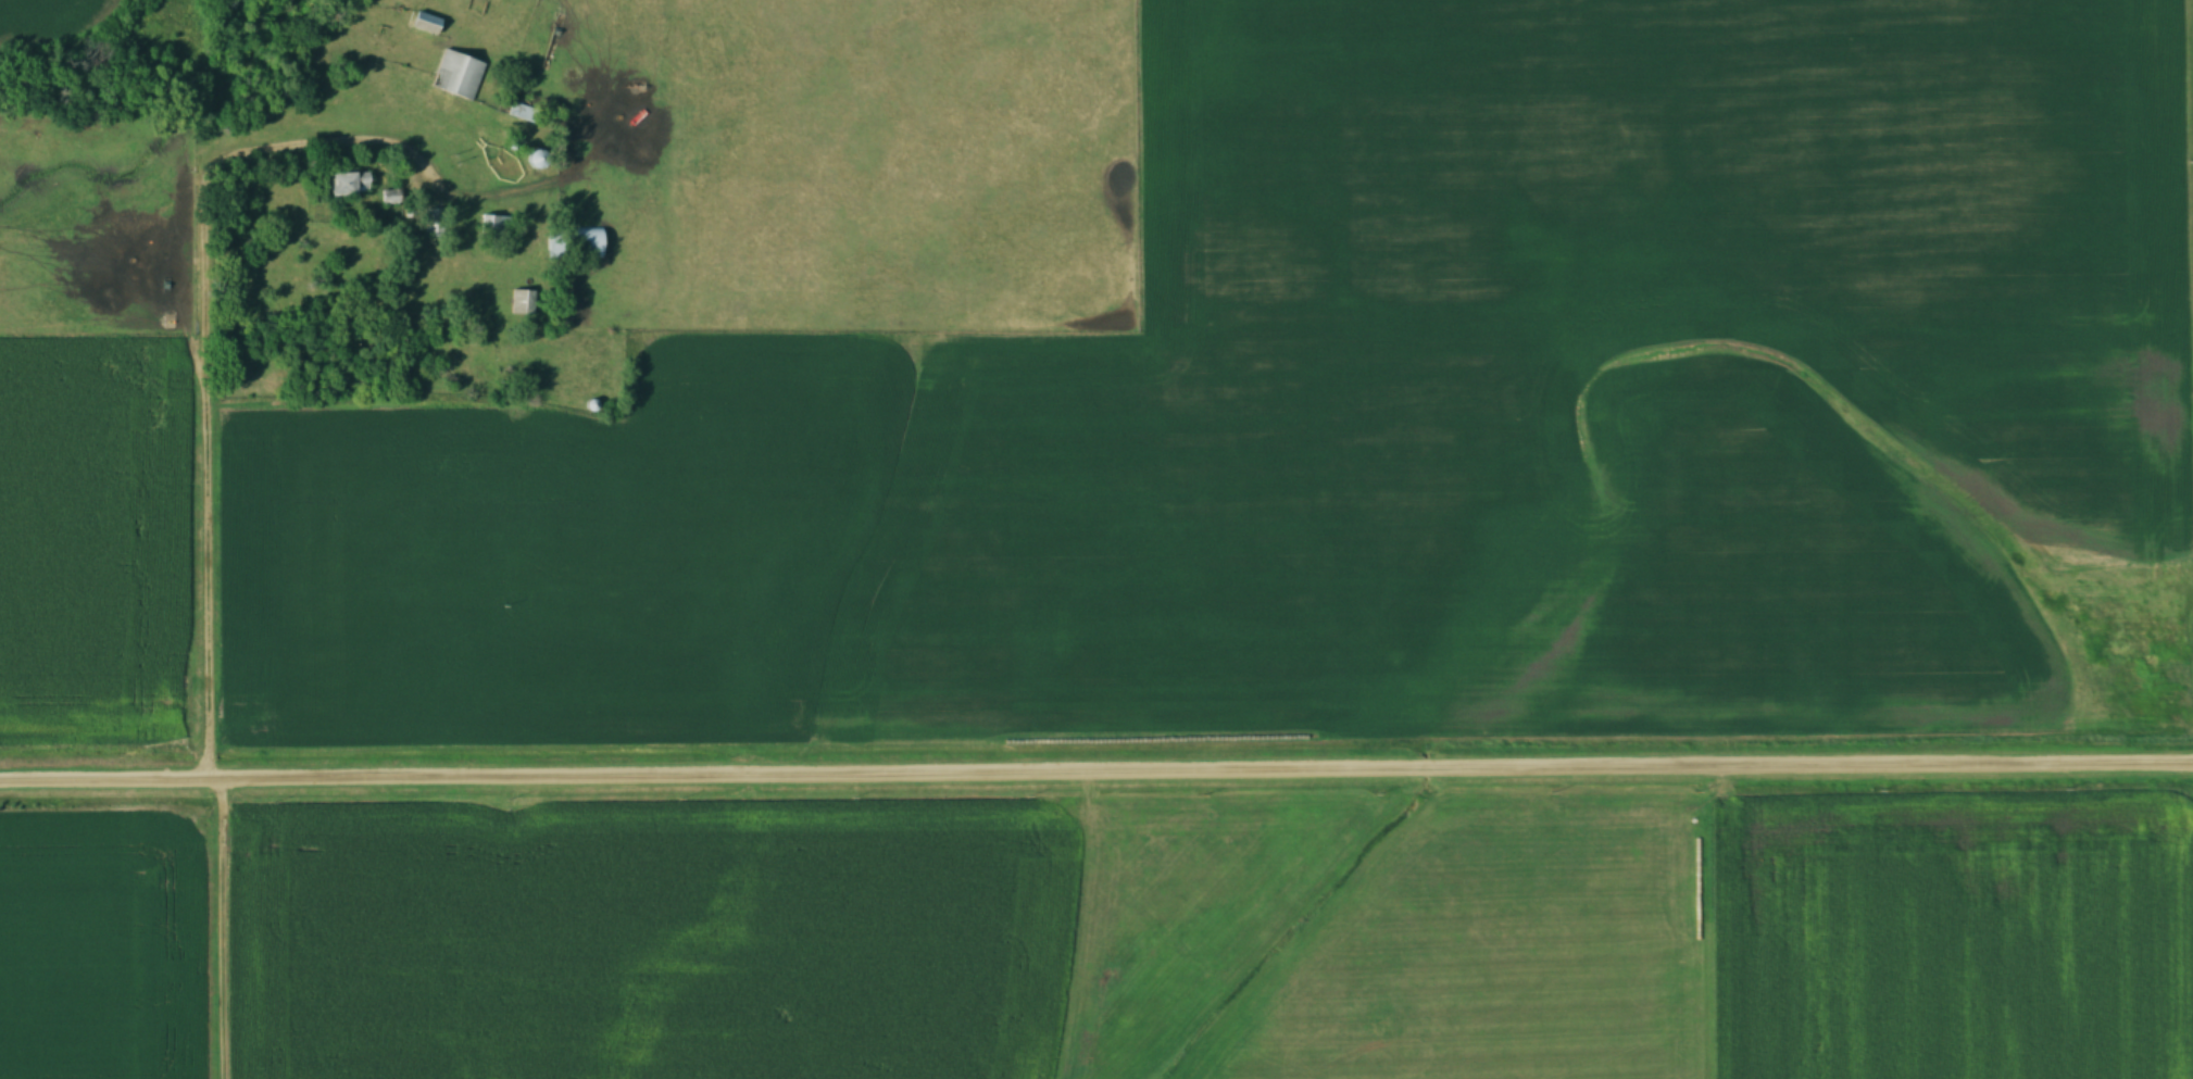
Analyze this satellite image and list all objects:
building: (426, 24)
building: (458, 76)
building: (350, 185)
building: (492, 226)
building: (575, 243)
building: (523, 303)
road: (202, 399)
road: (1095, 774)
road: (222, 929)

